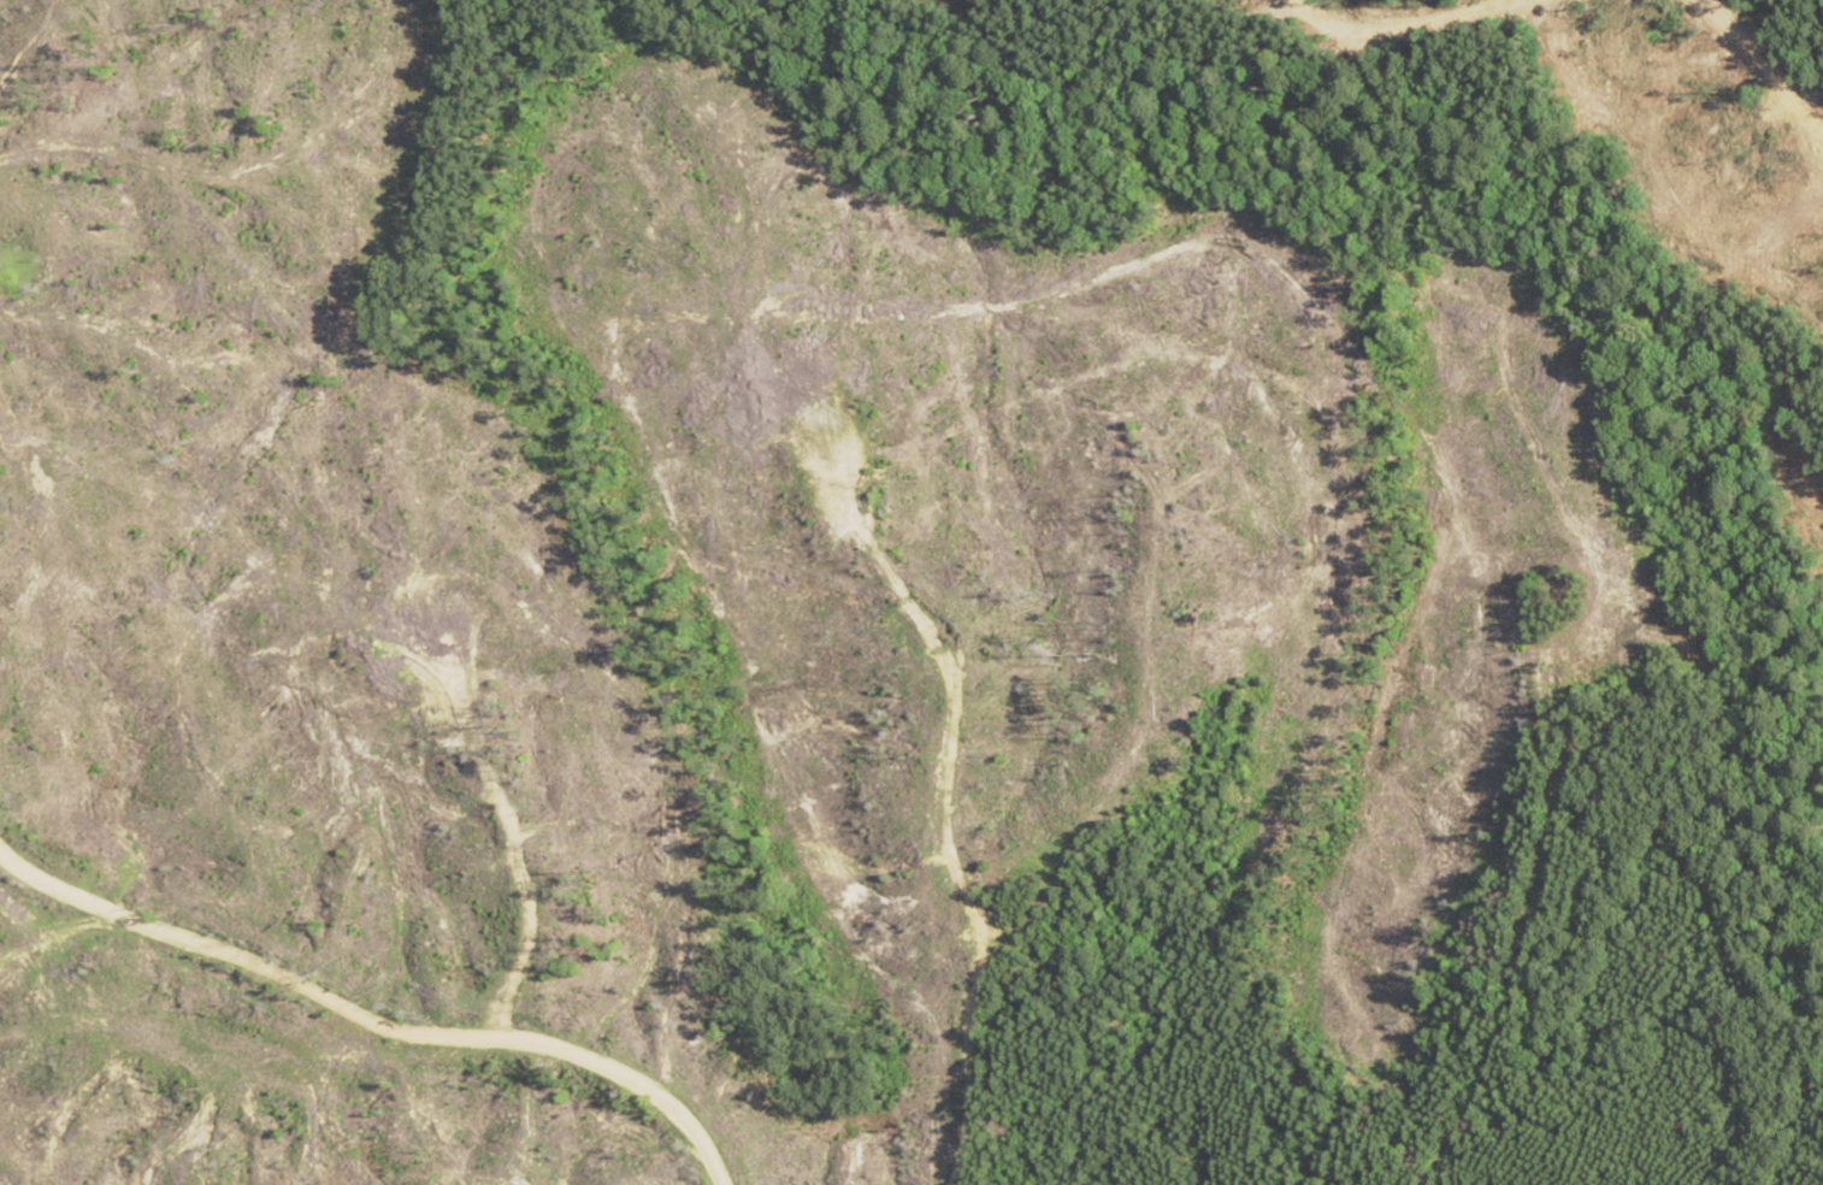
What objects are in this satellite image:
road: (331, 1032)

